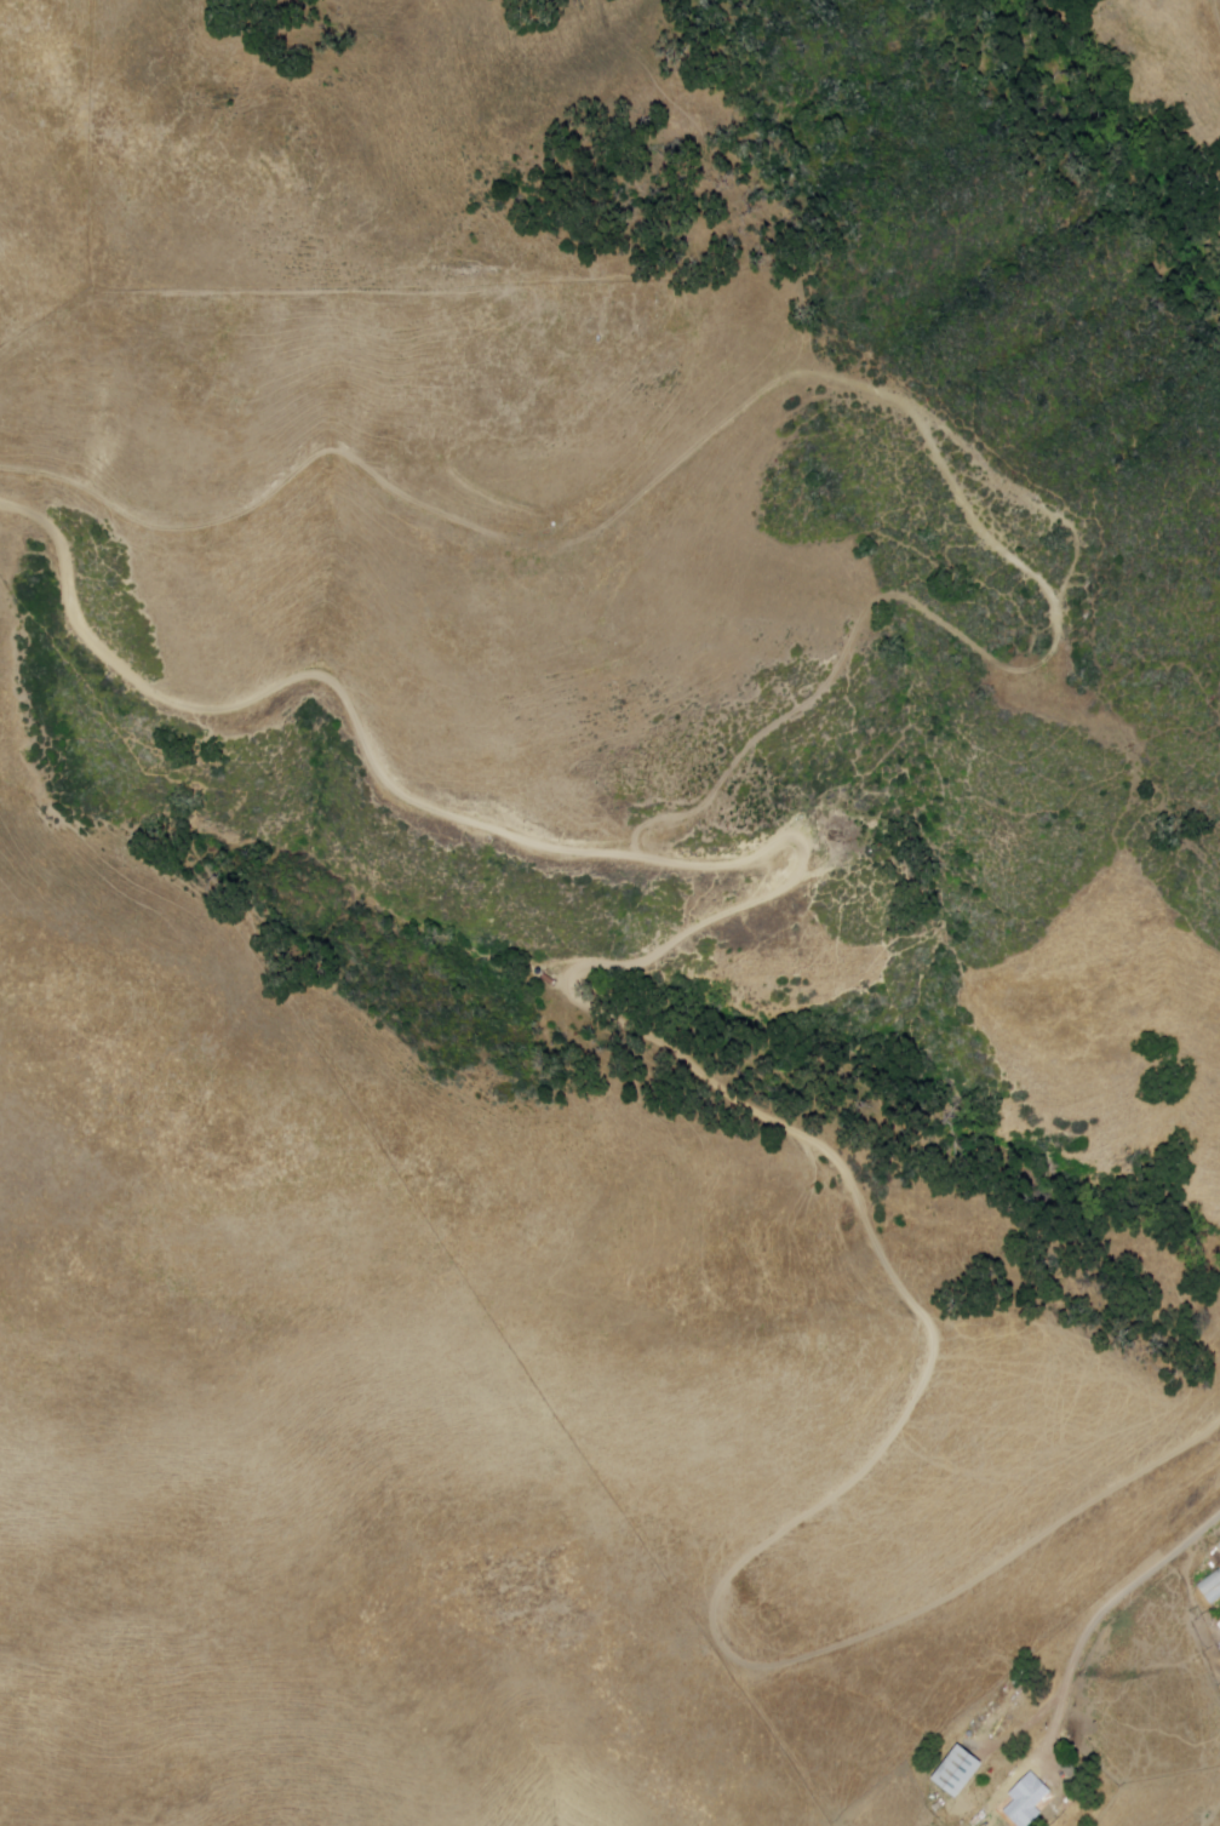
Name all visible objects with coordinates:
road: (642, 1025)
building: (1219, 1546)
building: (1210, 1589)
road: (1100, 1620)
building: (960, 1770)
building: (1030, 1802)

